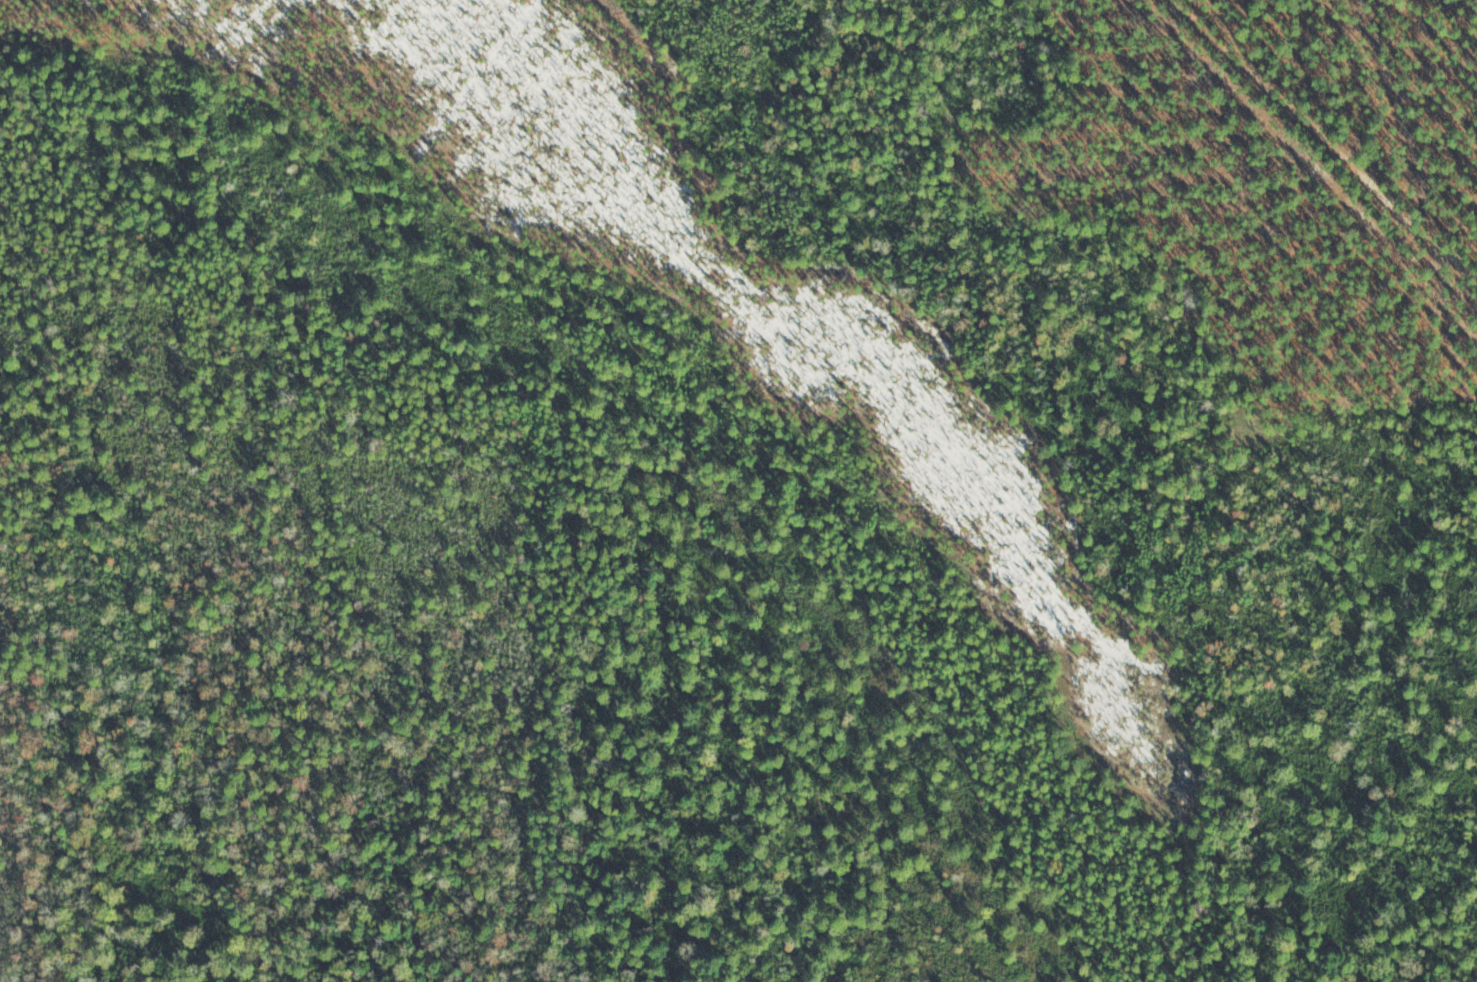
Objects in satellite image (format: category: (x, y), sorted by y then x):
road: (1328, 91)

